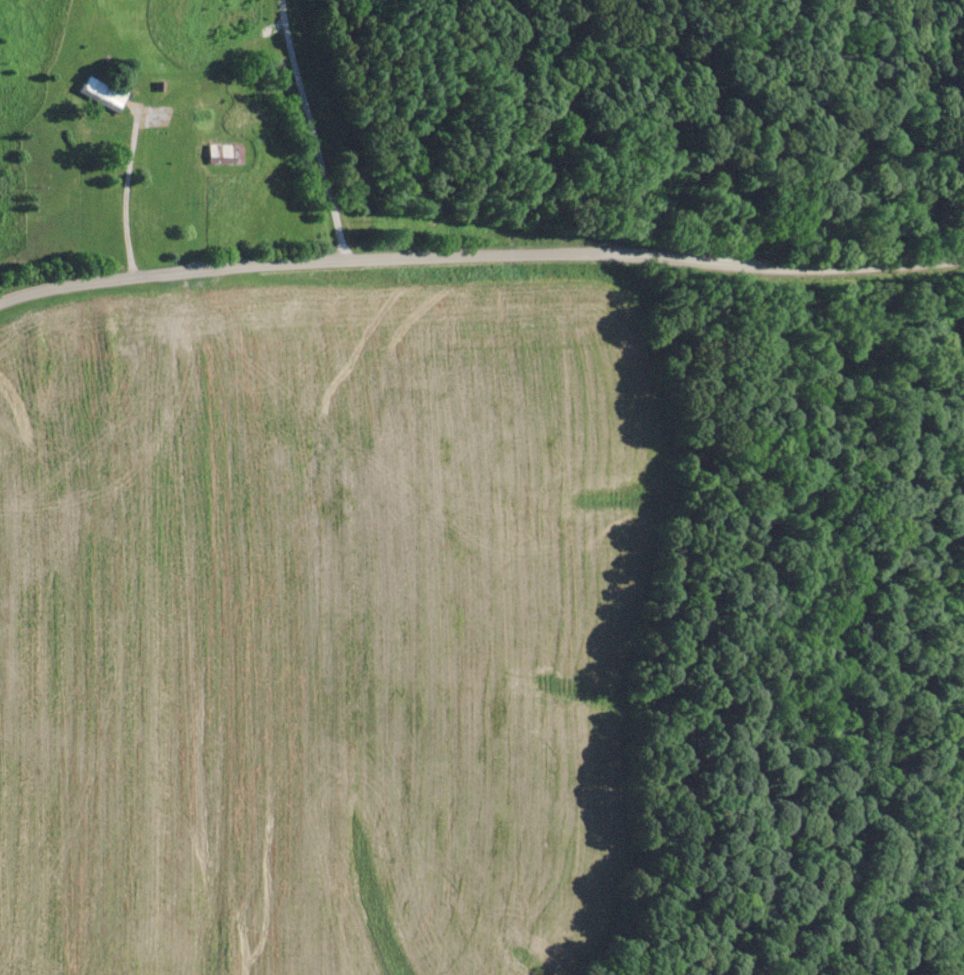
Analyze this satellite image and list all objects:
building: (102, 93)
building: (224, 154)
road: (480, 253)

